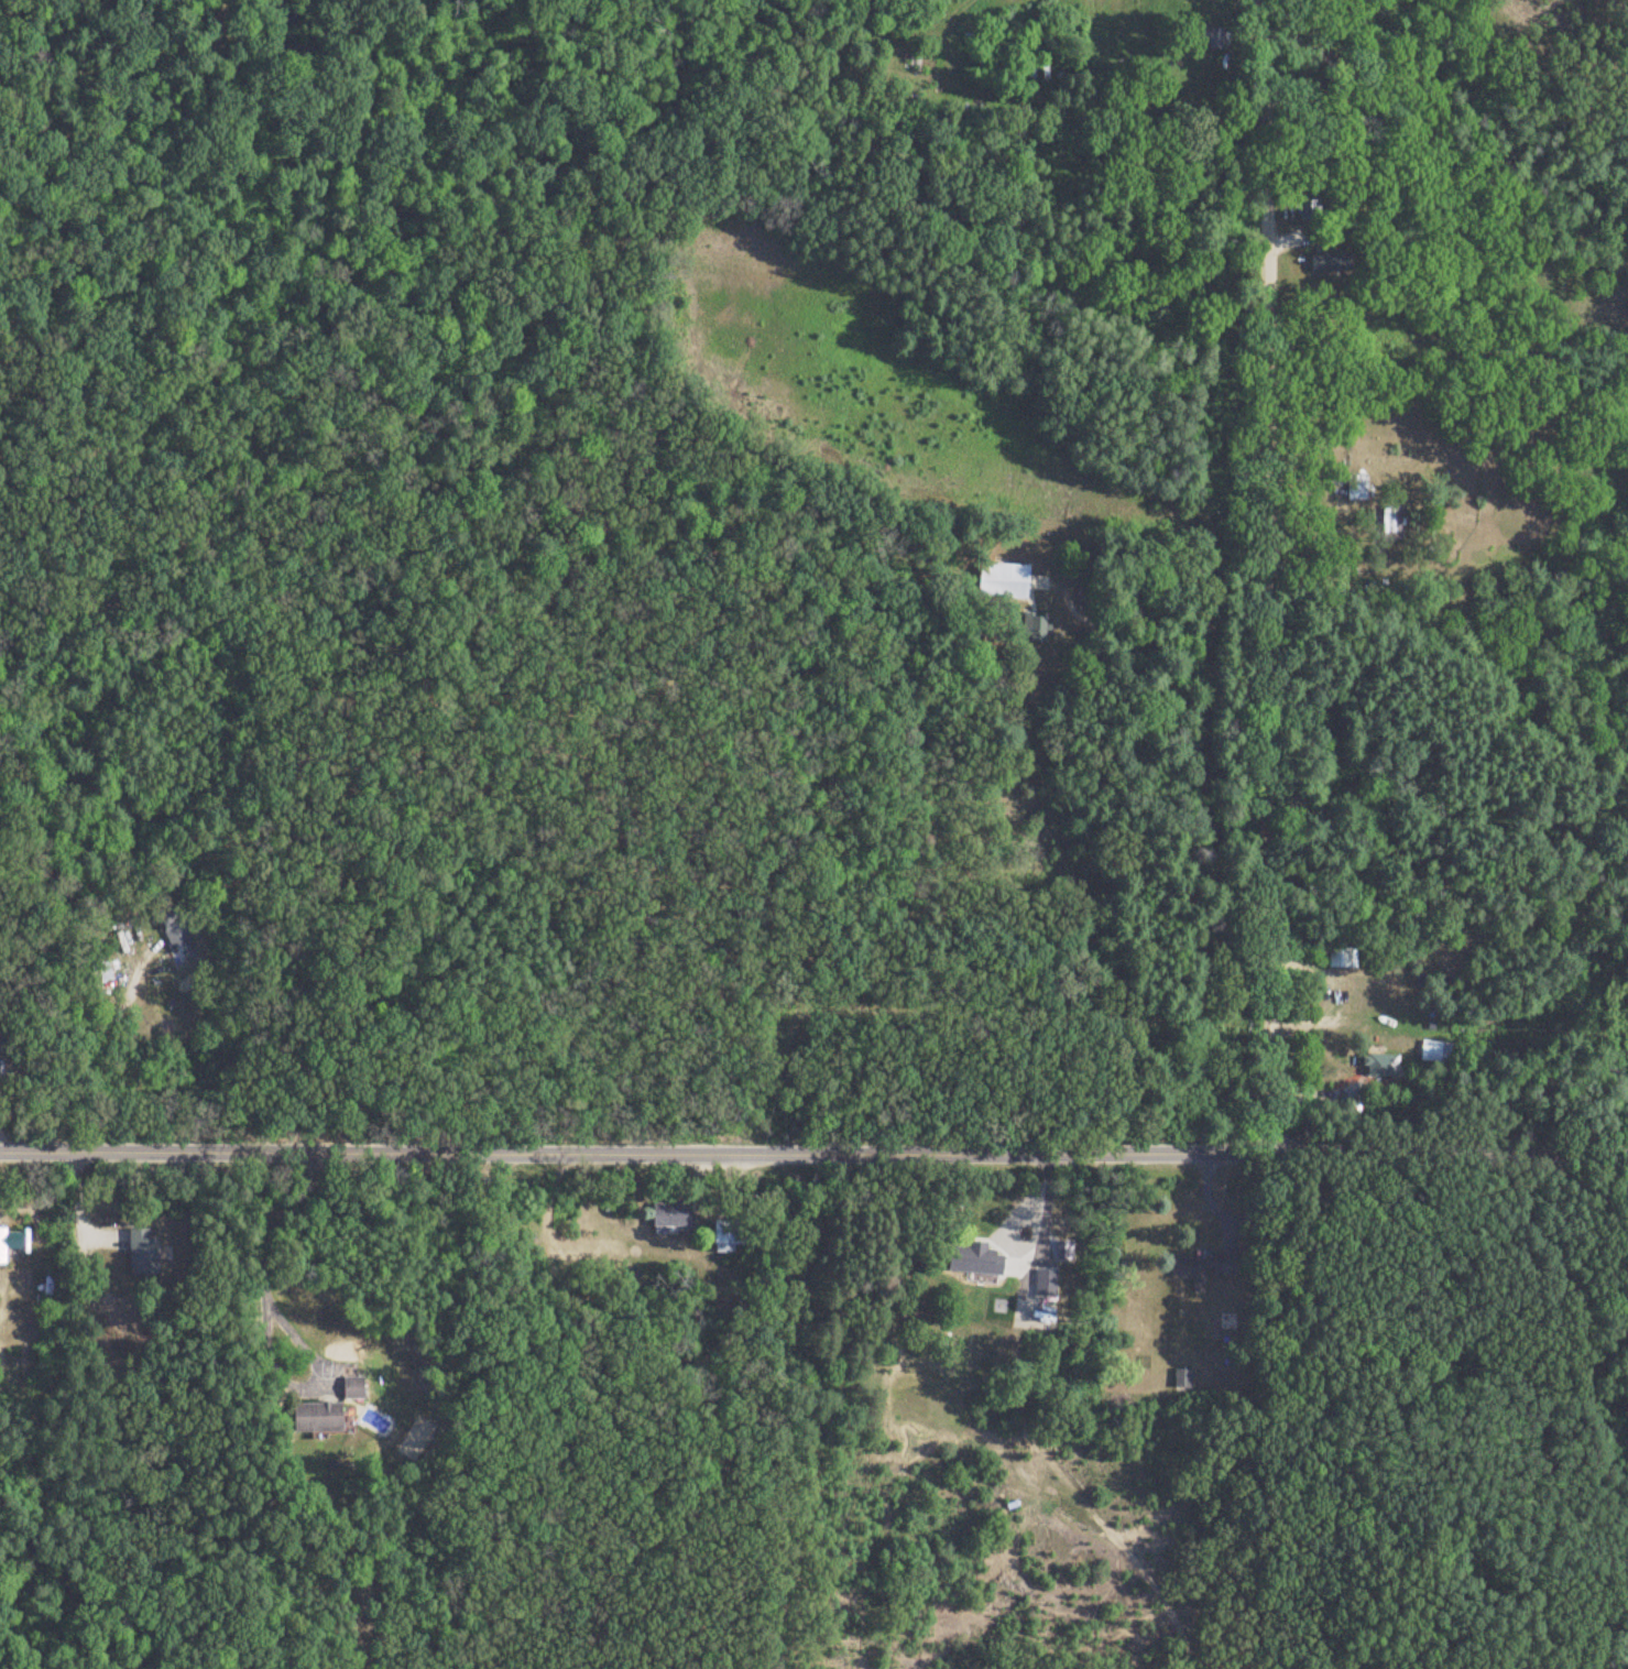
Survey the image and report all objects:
building: (1326, 263)
building: (1353, 488)
road: (1261, 575)
building: (1001, 581)
road: (1146, 614)
building: (174, 936)
road: (110, 1051)
building: (1424, 1052)
building: (1377, 1067)
road: (813, 1148)
road: (303, 1185)
building: (668, 1214)
building: (724, 1234)
building: (11, 1246)
building: (140, 1253)
building: (979, 1259)
road: (265, 1267)
building: (1200, 1267)
building: (1041, 1281)
building: (1179, 1378)
building: (350, 1388)
building: (315, 1417)

